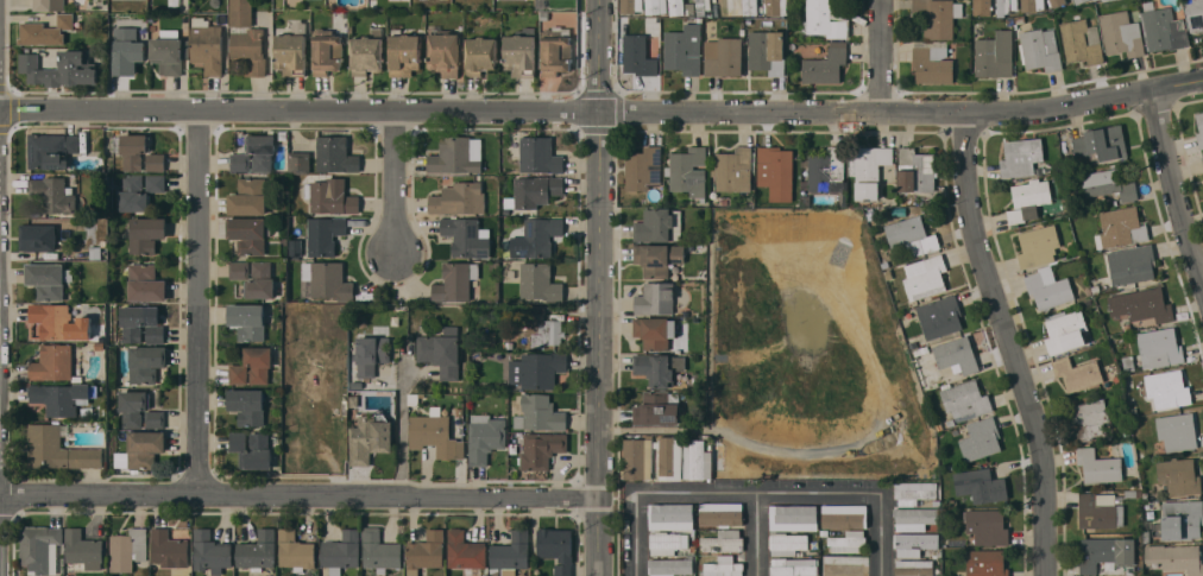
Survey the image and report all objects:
building: (1102, 0)
building: (1078, 1)
building: (1056, 2)
building: (49, 5)
building: (631, 5)
building: (1032, 5)
building: (656, 6)
building: (701, 6)
building: (730, 6)
building: (1006, 6)
building: (676, 7)
building: (751, 7)
building: (775, 7)
building: (980, 7)
building: (1195, 14)
building: (939, 17)
building: (825, 19)
building: (65, 20)
building: (634, 25)
building: (1163, 27)
building: (40, 33)
building: (1121, 33)
building: (246, 38)
building: (1082, 42)
building: (207, 44)
building: (684, 49)
building: (1040, 49)
building: (291, 50)
building: (556, 50)
building: (169, 51)
building: (326, 51)
building: (366, 52)
building: (443, 52)
building: (521, 52)
building: (764, 52)
building: (404, 53)
building: (995, 53)
building: (127, 55)
building: (480, 55)
building: (638, 56)
building: (723, 56)
road: (886, 58)
building: (932, 62)
building: (825, 64)
building: (61, 68)
road: (901, 114)
road: (297, 115)
building: (1199, 122)
building: (1102, 143)
building: (50, 150)
building: (134, 150)
building: (260, 150)
building: (335, 154)
building: (456, 154)
building: (540, 154)
building: (1021, 156)
building: (1202, 158)
building: (155, 162)
building: (240, 162)
building: (300, 162)
building: (642, 167)
building: (732, 170)
building: (827, 170)
building: (870, 170)
building: (917, 170)
building: (688, 171)
building: (776, 171)
building: (1108, 184)
road: (1167, 186)
road: (397, 189)
building: (139, 190)
building: (536, 190)
building: (1032, 192)
building: (53, 194)
building: (248, 196)
building: (329, 197)
building: (459, 198)
building: (1016, 215)
building: (659, 224)
building: (1121, 227)
building: (146, 233)
building: (248, 234)
building: (325, 234)
building: (912, 235)
building: (37, 236)
building: (466, 236)
building: (537, 236)
building: (1038, 246)
building: (295, 247)
road: (598, 247)
building: (95, 253)
building: (657, 258)
building: (1132, 264)
building: (925, 276)
building: (254, 277)
building: (49, 279)
building: (327, 279)
building: (455, 280)
building: (540, 281)
building: (145, 283)
building: (1048, 287)
building: (655, 298)
building: (1141, 304)
road: (204, 308)
building: (940, 316)
building: (247, 321)
building: (59, 322)
building: (133, 322)
building: (542, 327)
building: (1065, 330)
building: (654, 331)
building: (155, 334)
road: (1004, 344)
building: (1160, 346)
building: (441, 352)
building: (371, 354)
building: (957, 355)
building: (53, 362)
building: (146, 362)
building: (253, 366)
building: (659, 367)
building: (537, 369)
building: (1077, 373)
building: (1167, 388)
building: (61, 397)
building: (965, 398)
building: (247, 405)
building: (133, 406)
building: (657, 407)
building: (538, 413)
building: (153, 418)
building: (1088, 418)
road: (401, 425)
building: (1177, 431)
building: (434, 436)
building: (370, 437)
building: (485, 437)
building: (981, 438)
building: (144, 448)
building: (540, 448)
building: (58, 449)
building: (252, 449)
building: (668, 457)
building: (637, 458)
building: (697, 460)
building: (1098, 466)
building: (1179, 475)
building: (982, 486)
building: (913, 492)
road: (761, 495)
road: (301, 500)
building: (1100, 509)
building: (720, 513)
building: (670, 515)
building: (845, 515)
building: (794, 517)
building: (915, 518)
building: (1182, 519)
building: (987, 526)
road: (601, 536)
road: (641, 536)
road: (756, 536)
road: (881, 536)
building: (723, 540)
building: (667, 542)
building: (849, 542)
building: (38, 543)
building: (787, 543)
building: (914, 543)
building: (556, 547)
building: (128, 549)
building: (169, 549)
building: (82, 550)
building: (295, 550)
building: (379, 550)
building: (426, 550)
building: (465, 550)
building: (210, 551)
building: (257, 551)
building: (341, 551)
building: (511, 552)
building: (1106, 552)
building: (1176, 557)
building: (985, 563)
building: (845, 565)
building: (672, 566)
building: (722, 566)
building: (793, 566)
building: (914, 566)

